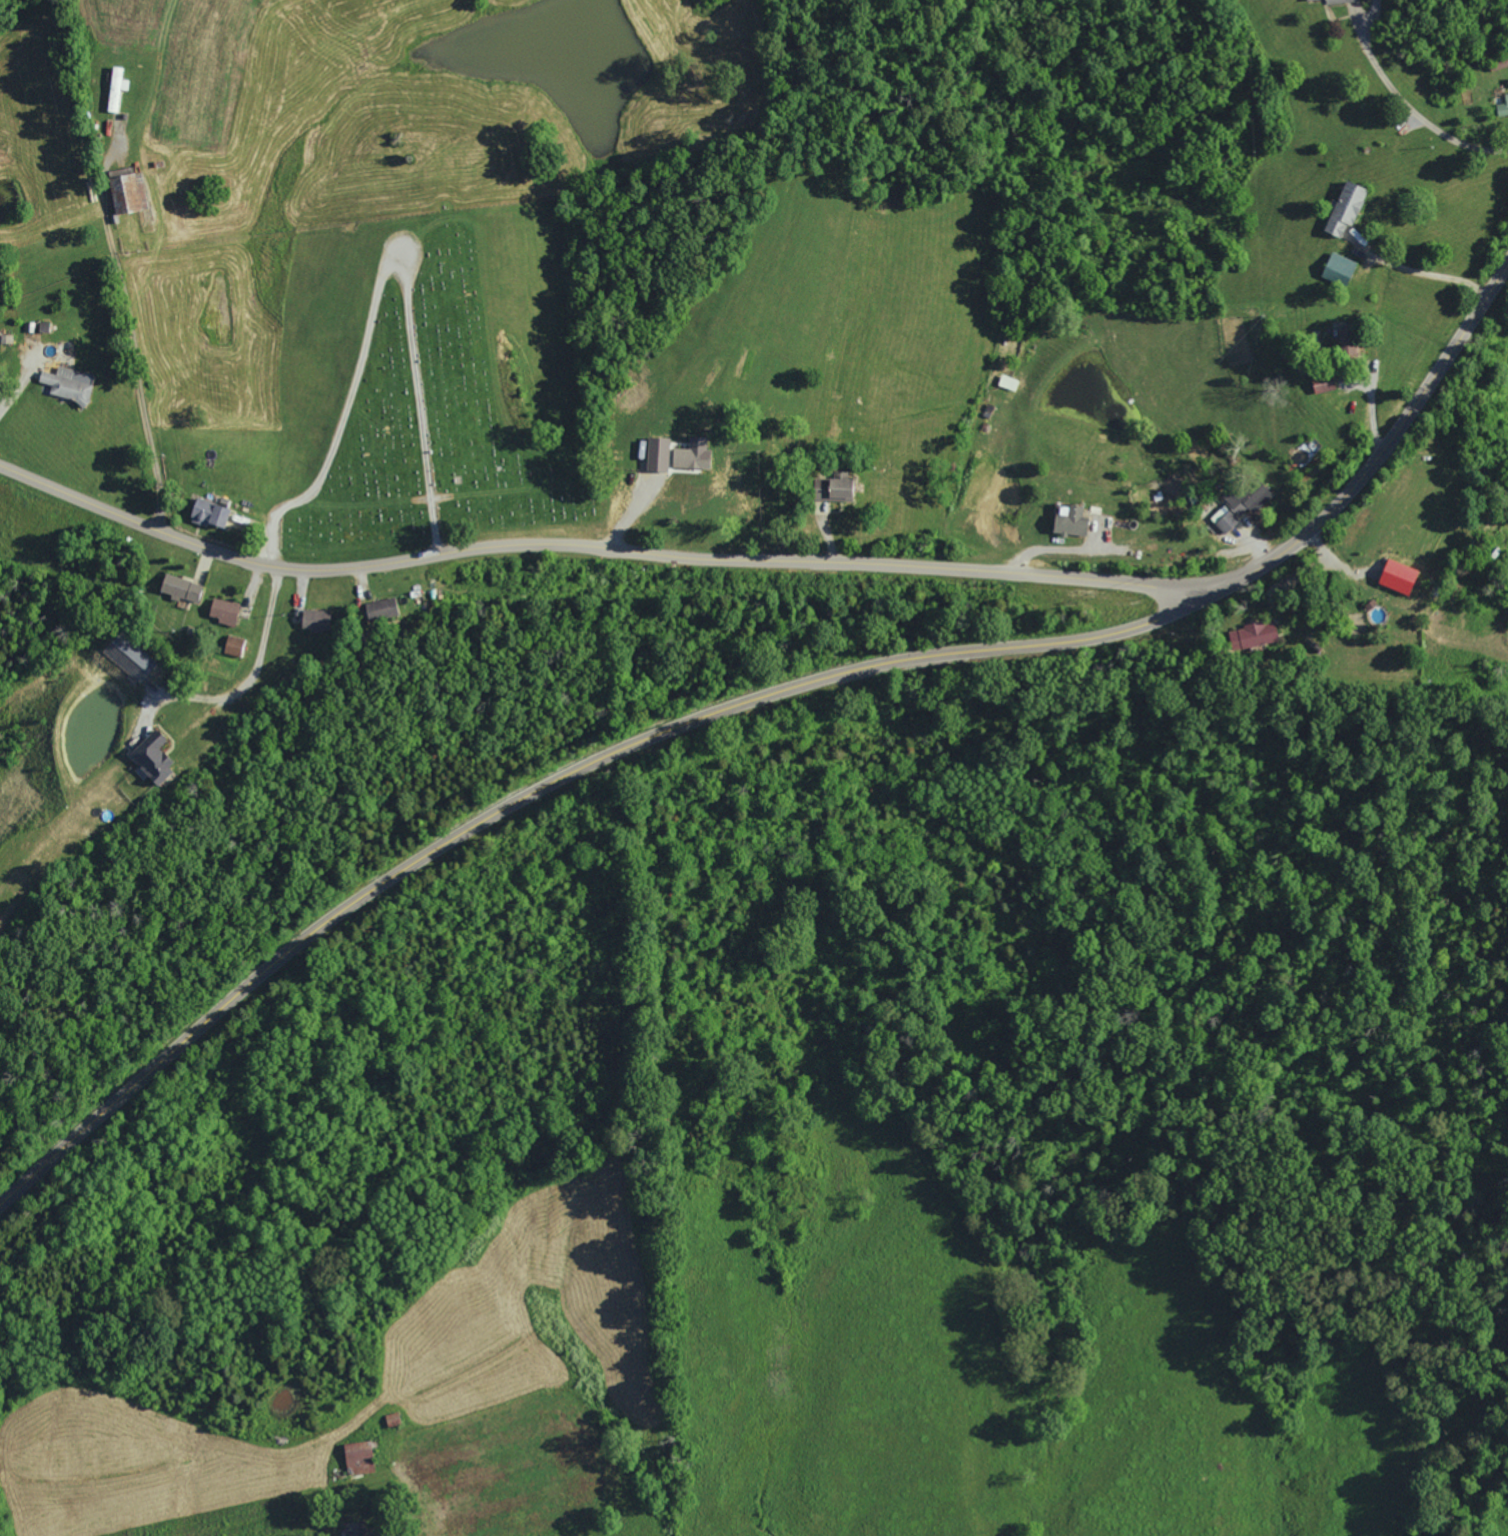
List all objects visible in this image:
building: (116, 89)
building: (1503, 107)
road: (1412, 109)
building: (124, 195)
building: (1345, 209)
building: (1338, 269)
road: (1424, 273)
building: (1345, 339)
road: (136, 363)
building: (1008, 383)
building: (1322, 384)
building: (65, 386)
road: (15, 388)
park: (447, 390)
building: (657, 455)
building: (692, 455)
building: (840, 488)
building: (821, 489)
building: (1242, 504)
building: (209, 514)
building: (1071, 523)
road: (592, 549)
road: (1059, 551)
building: (1397, 577)
building: (181, 588)
building: (380, 610)
building: (224, 612)
building: (315, 621)
building: (1252, 637)
building: (233, 646)
road: (252, 676)
road: (756, 698)
building: (152, 759)
building: (358, 1458)
building: (355, 1529)

